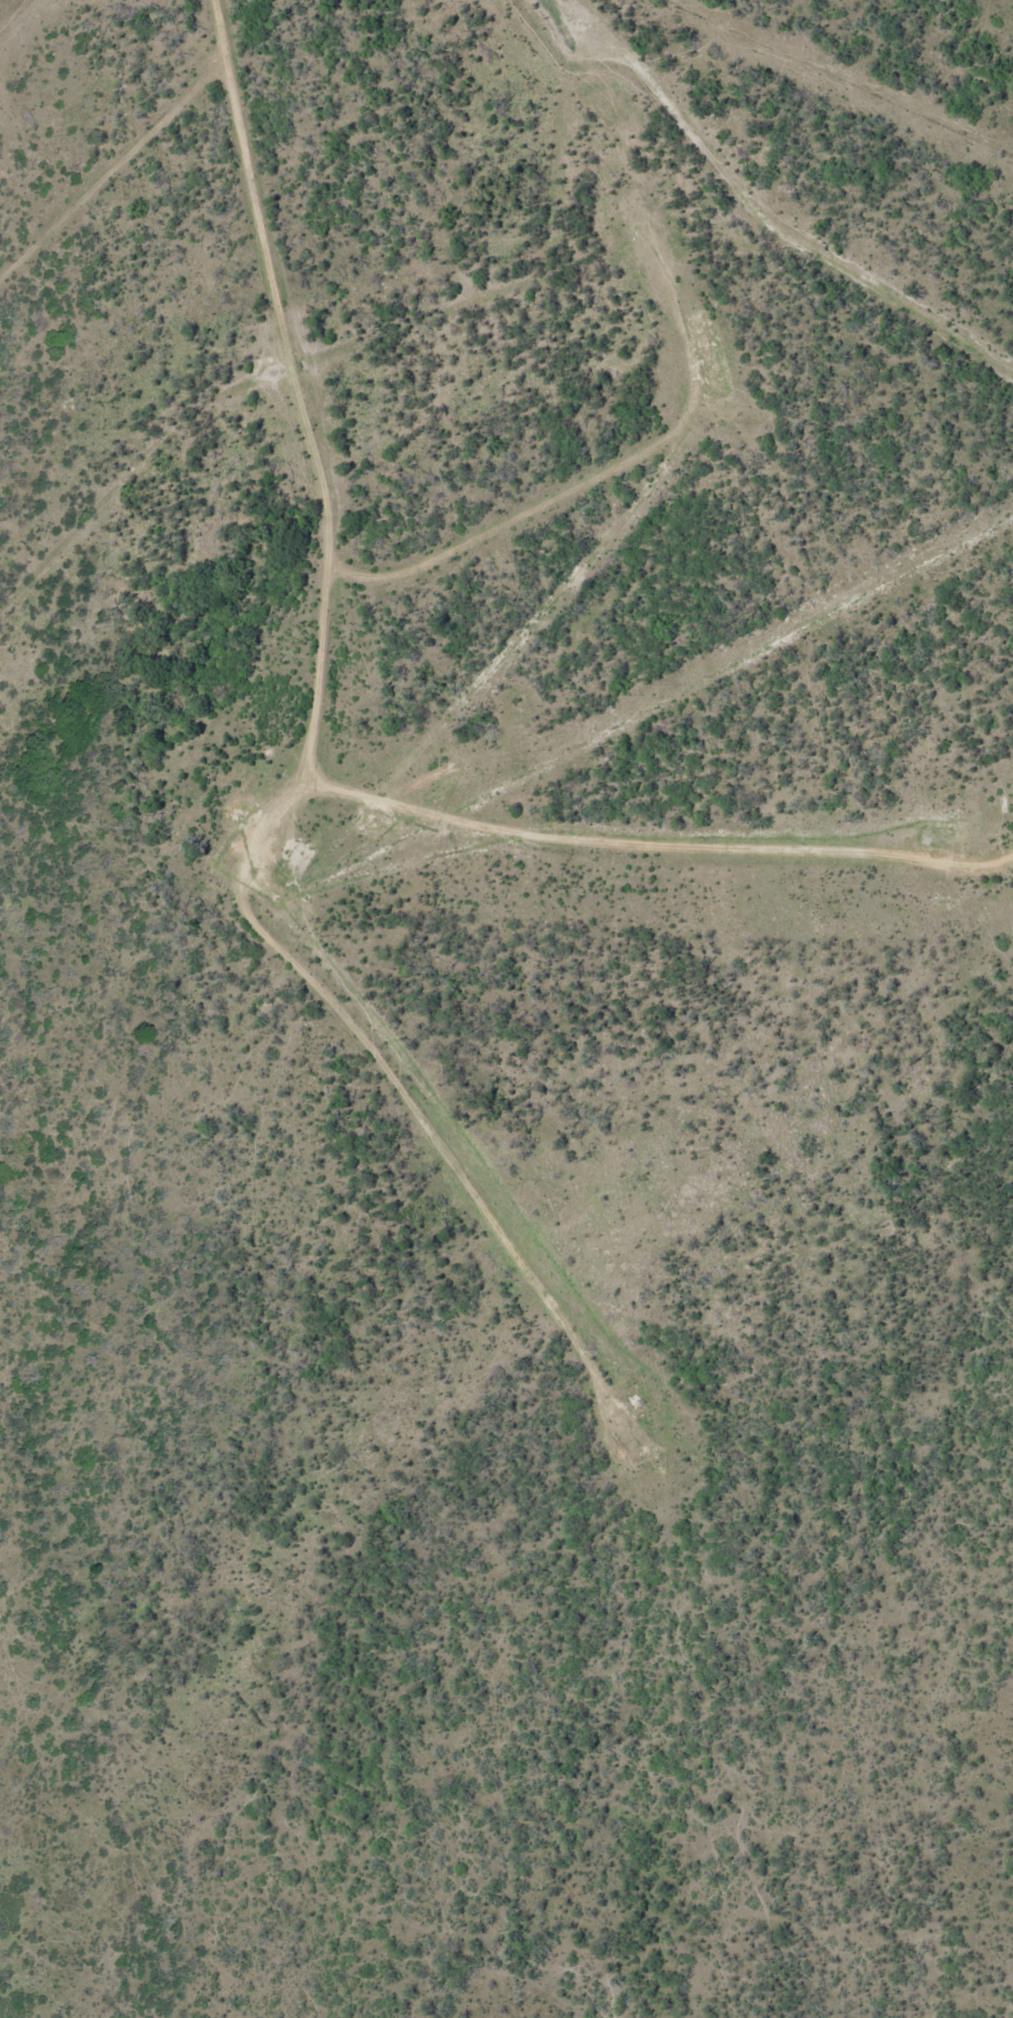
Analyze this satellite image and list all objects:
building: (716, 372)
storage tank: (716, 372)
road: (298, 386)
building: (376, 823)
storage tank: (376, 823)
building: (933, 837)
storage tank: (933, 837)
building: (237, 847)
building: (293, 869)
storage tank: (293, 869)
building: (265, 878)
building: (635, 1394)
storage tank: (635, 1394)

